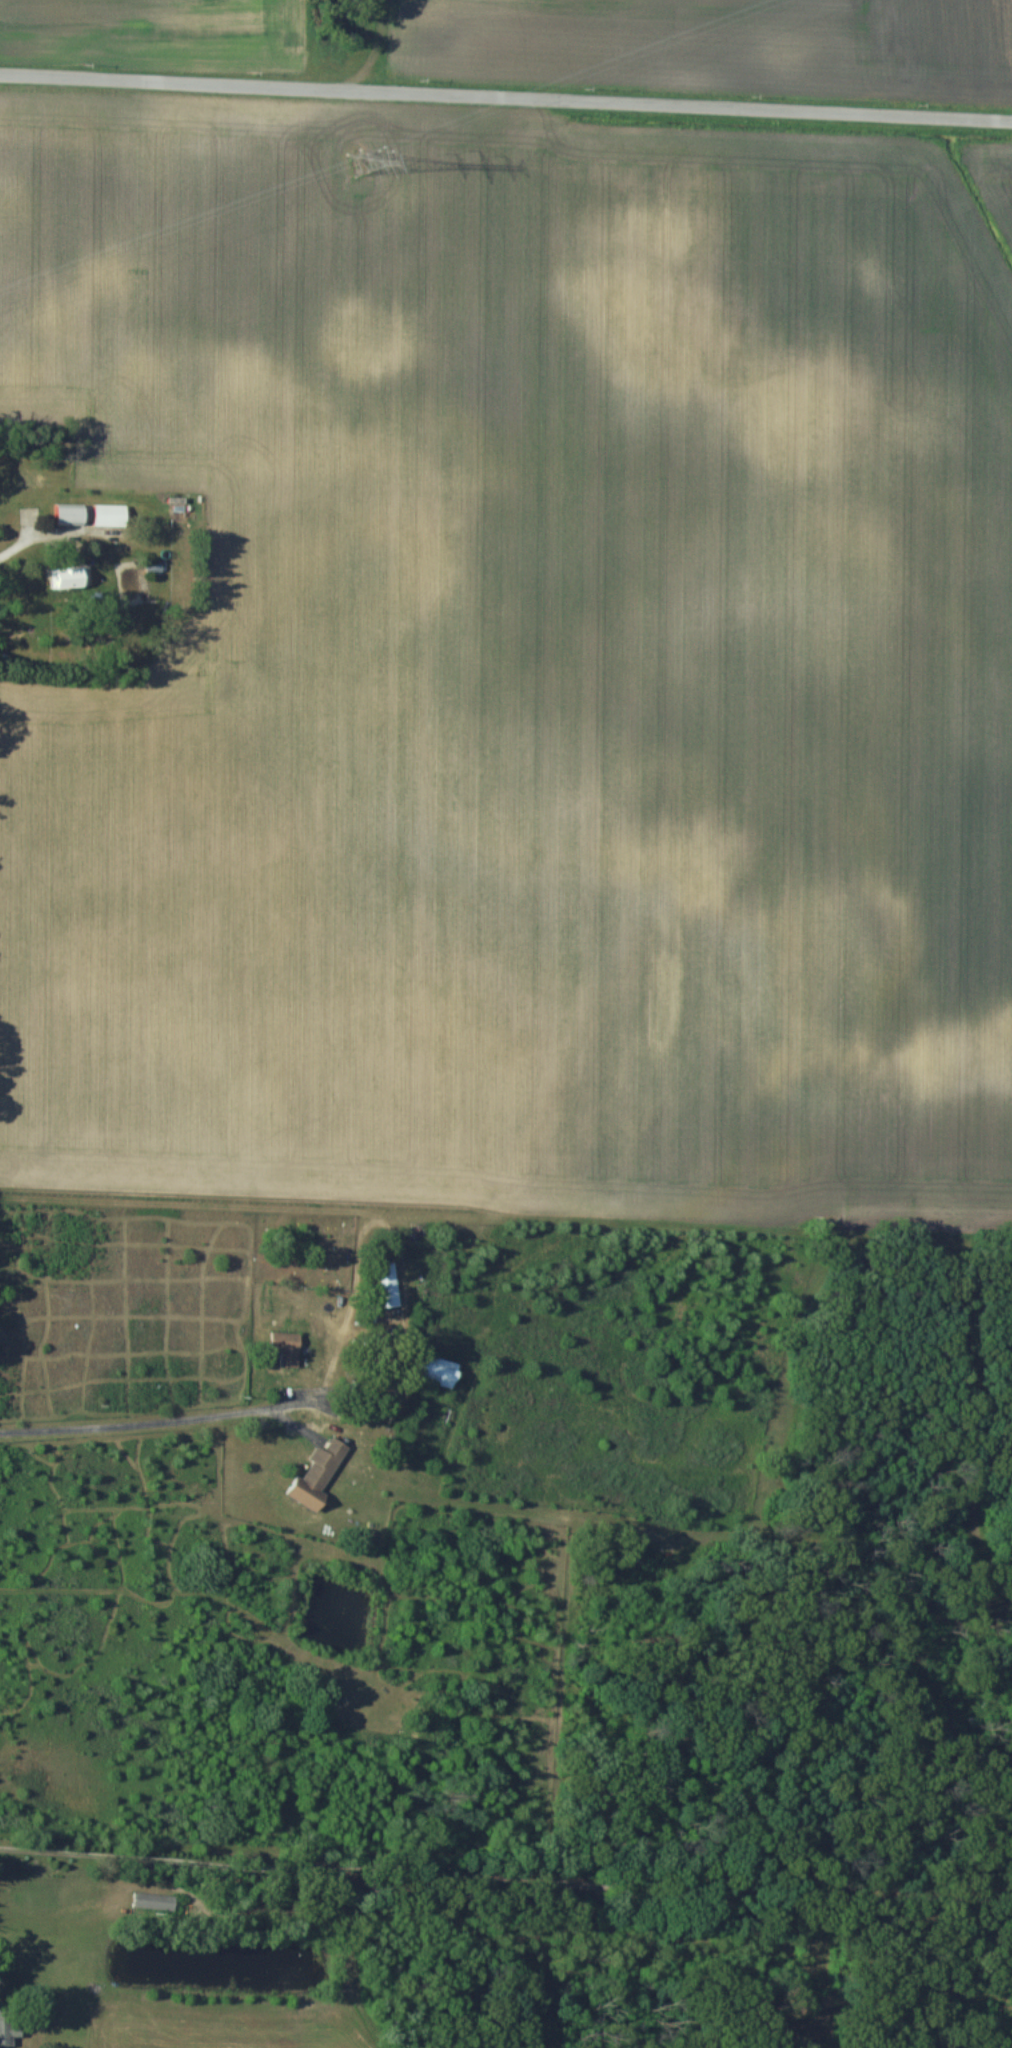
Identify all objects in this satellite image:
road: (506, 96)
power tower: (365, 163)
building: (74, 513)
building: (113, 514)
building: (74, 577)
building: (391, 1284)
building: (291, 1347)
building: (441, 1370)
road: (144, 1420)
building: (321, 1475)
building: (10, 2026)

